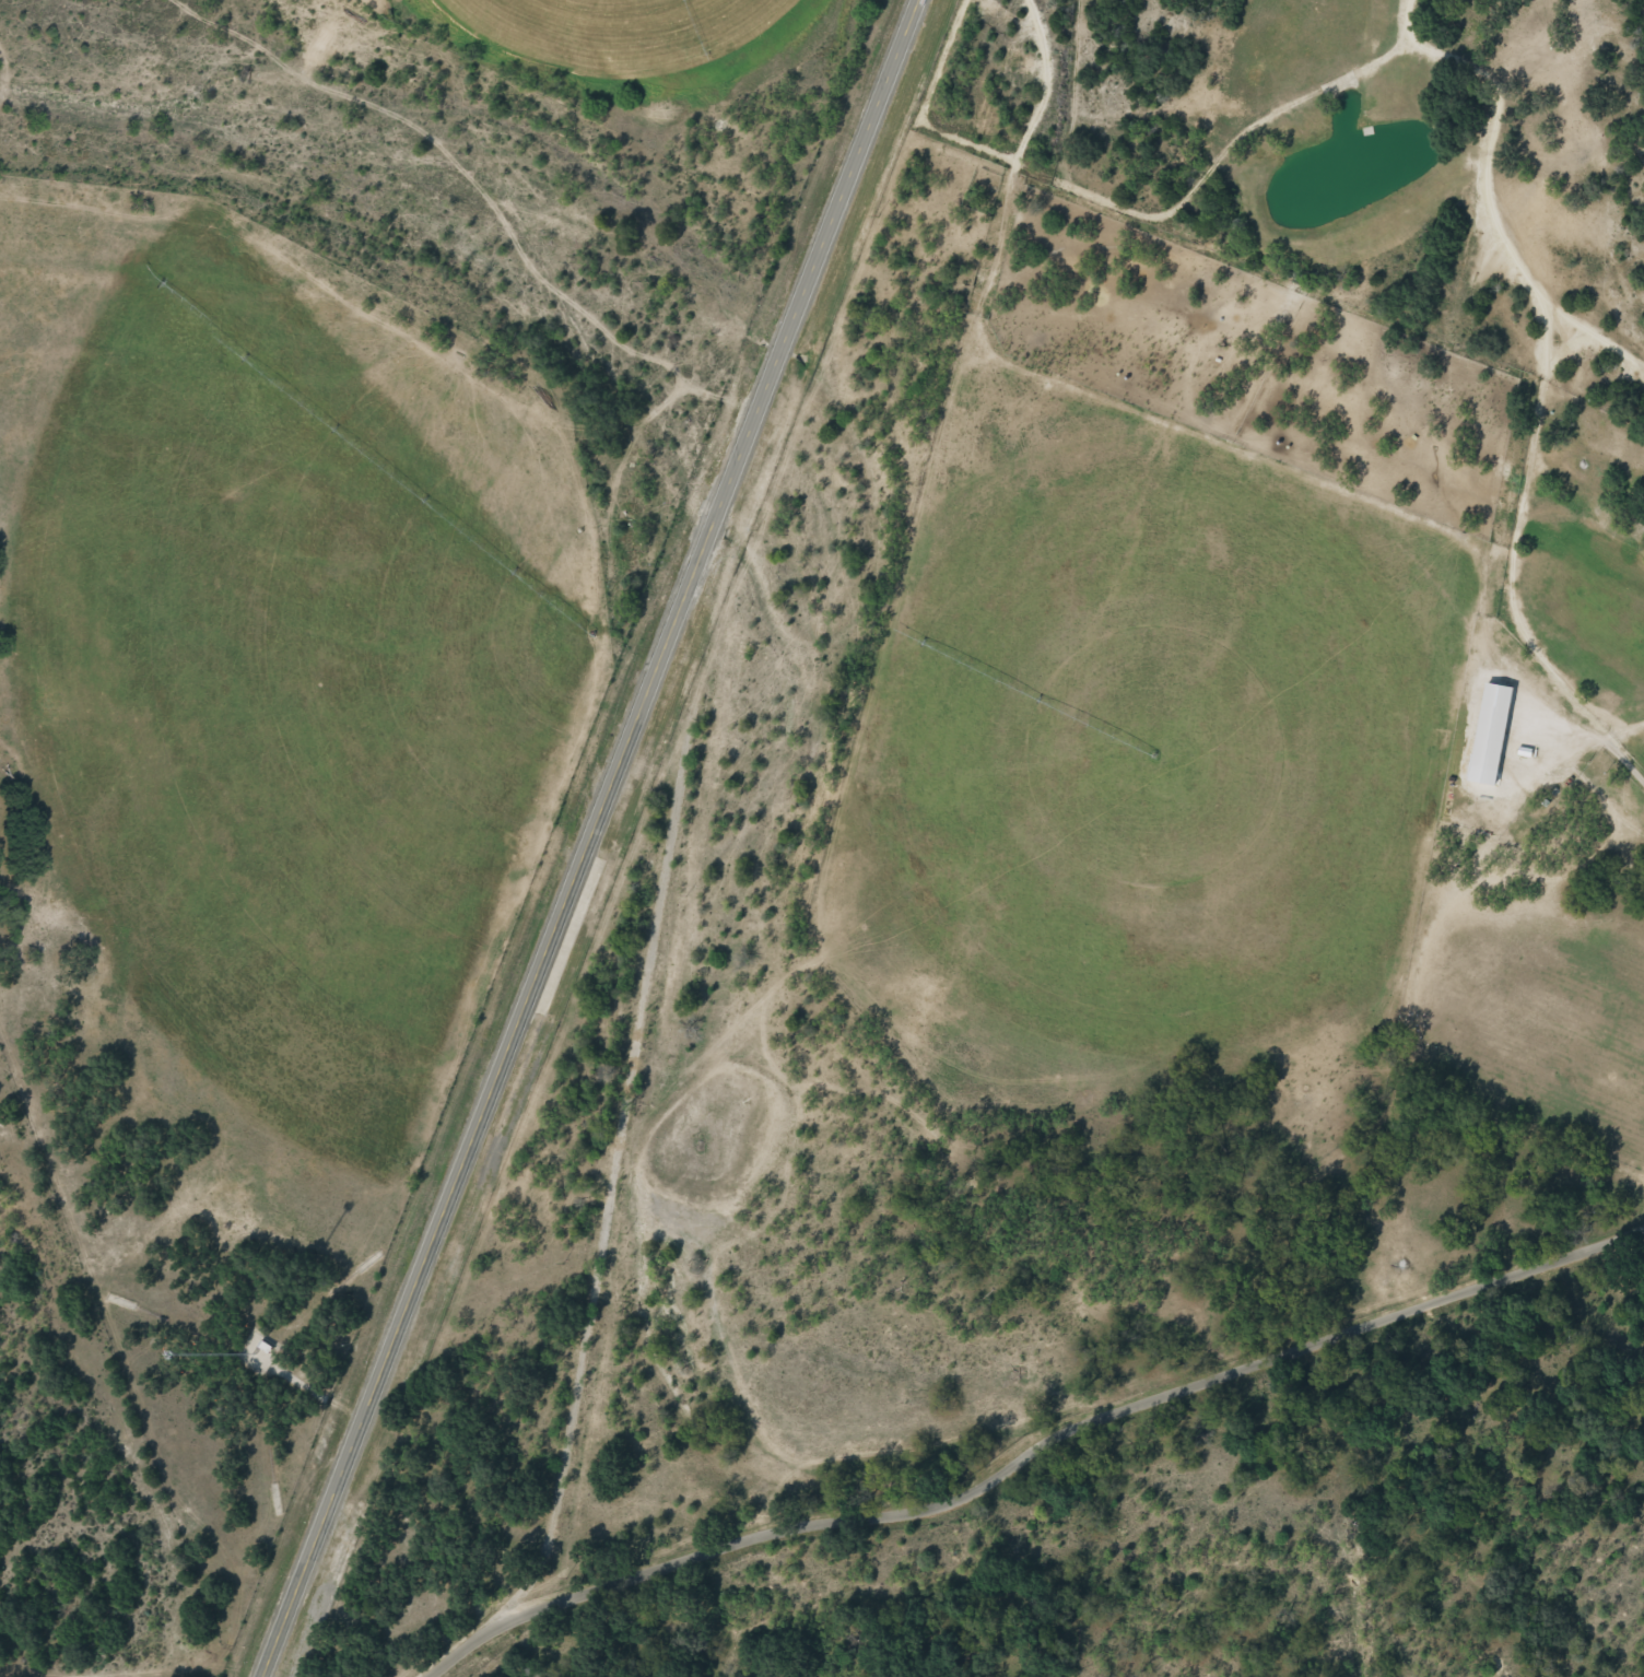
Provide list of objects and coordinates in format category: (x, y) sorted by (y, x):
building: (1490, 712)
road: (1581, 799)
road: (589, 836)
road: (1031, 1451)

